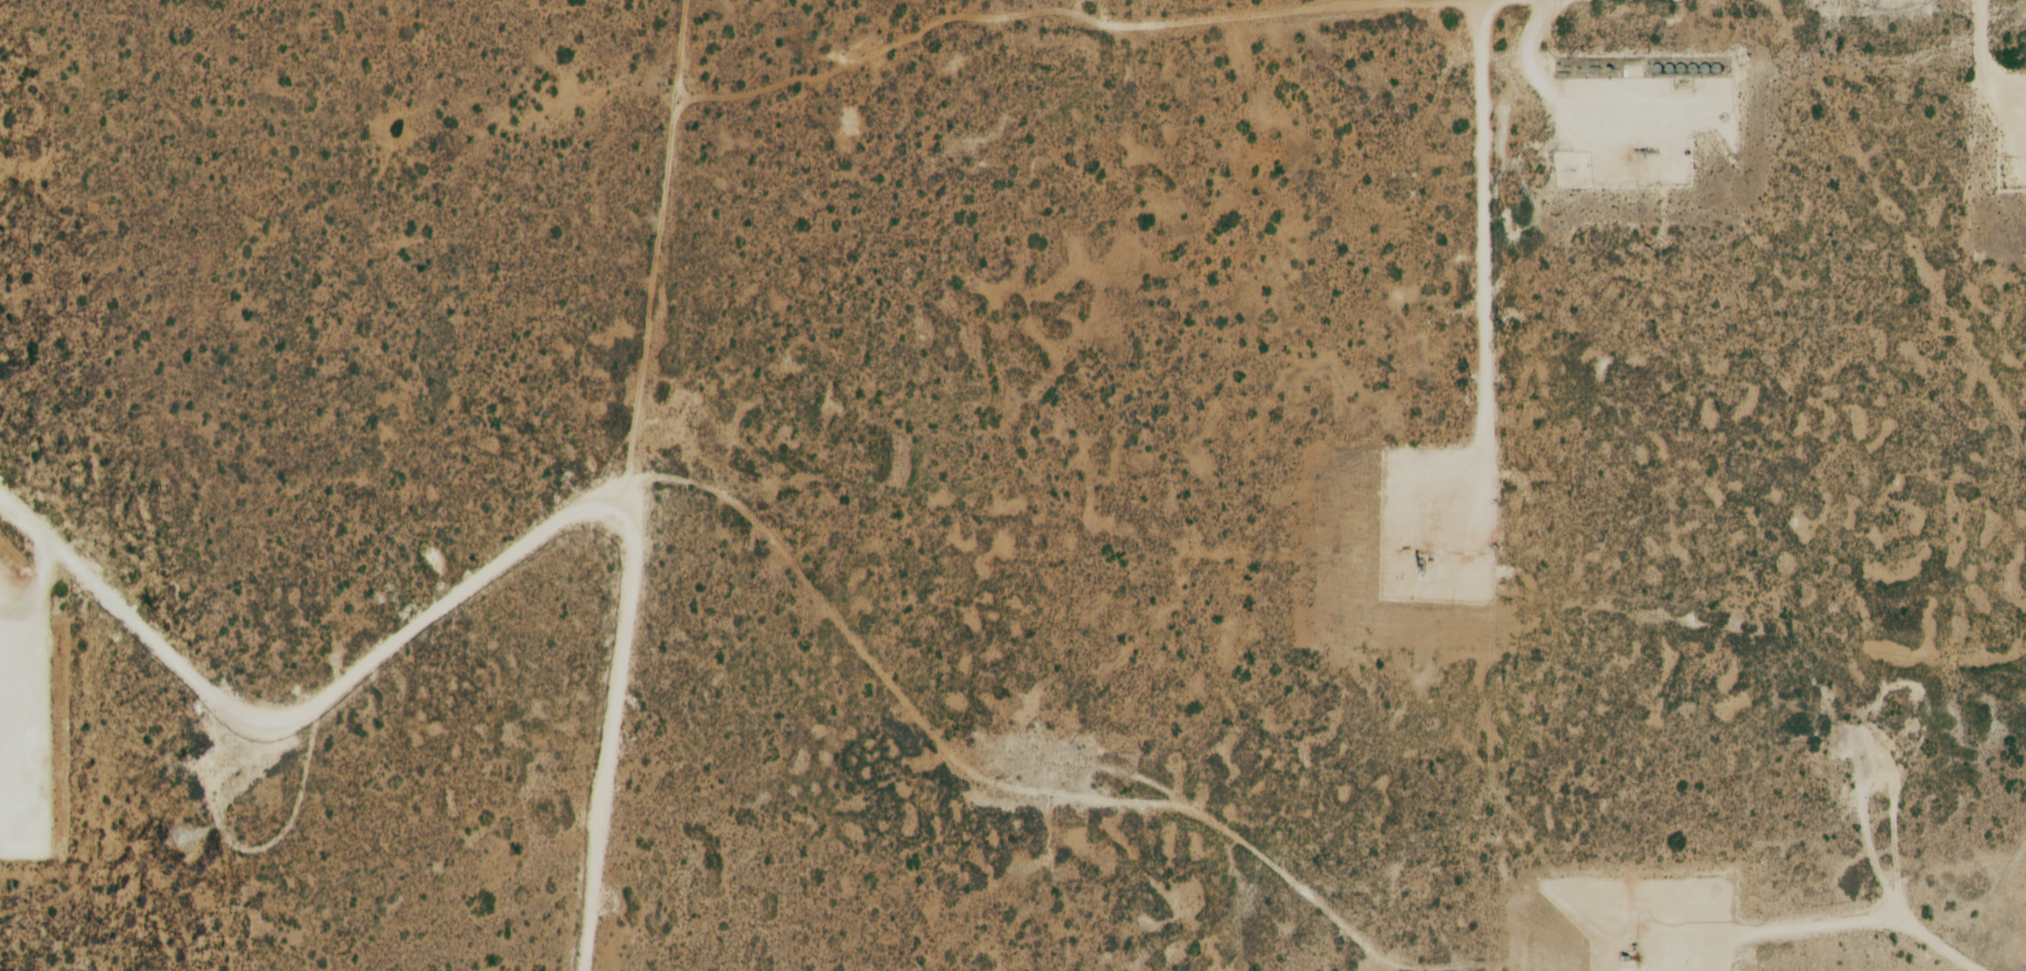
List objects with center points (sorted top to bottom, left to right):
road: (1081, 259)
road: (503, 567)

